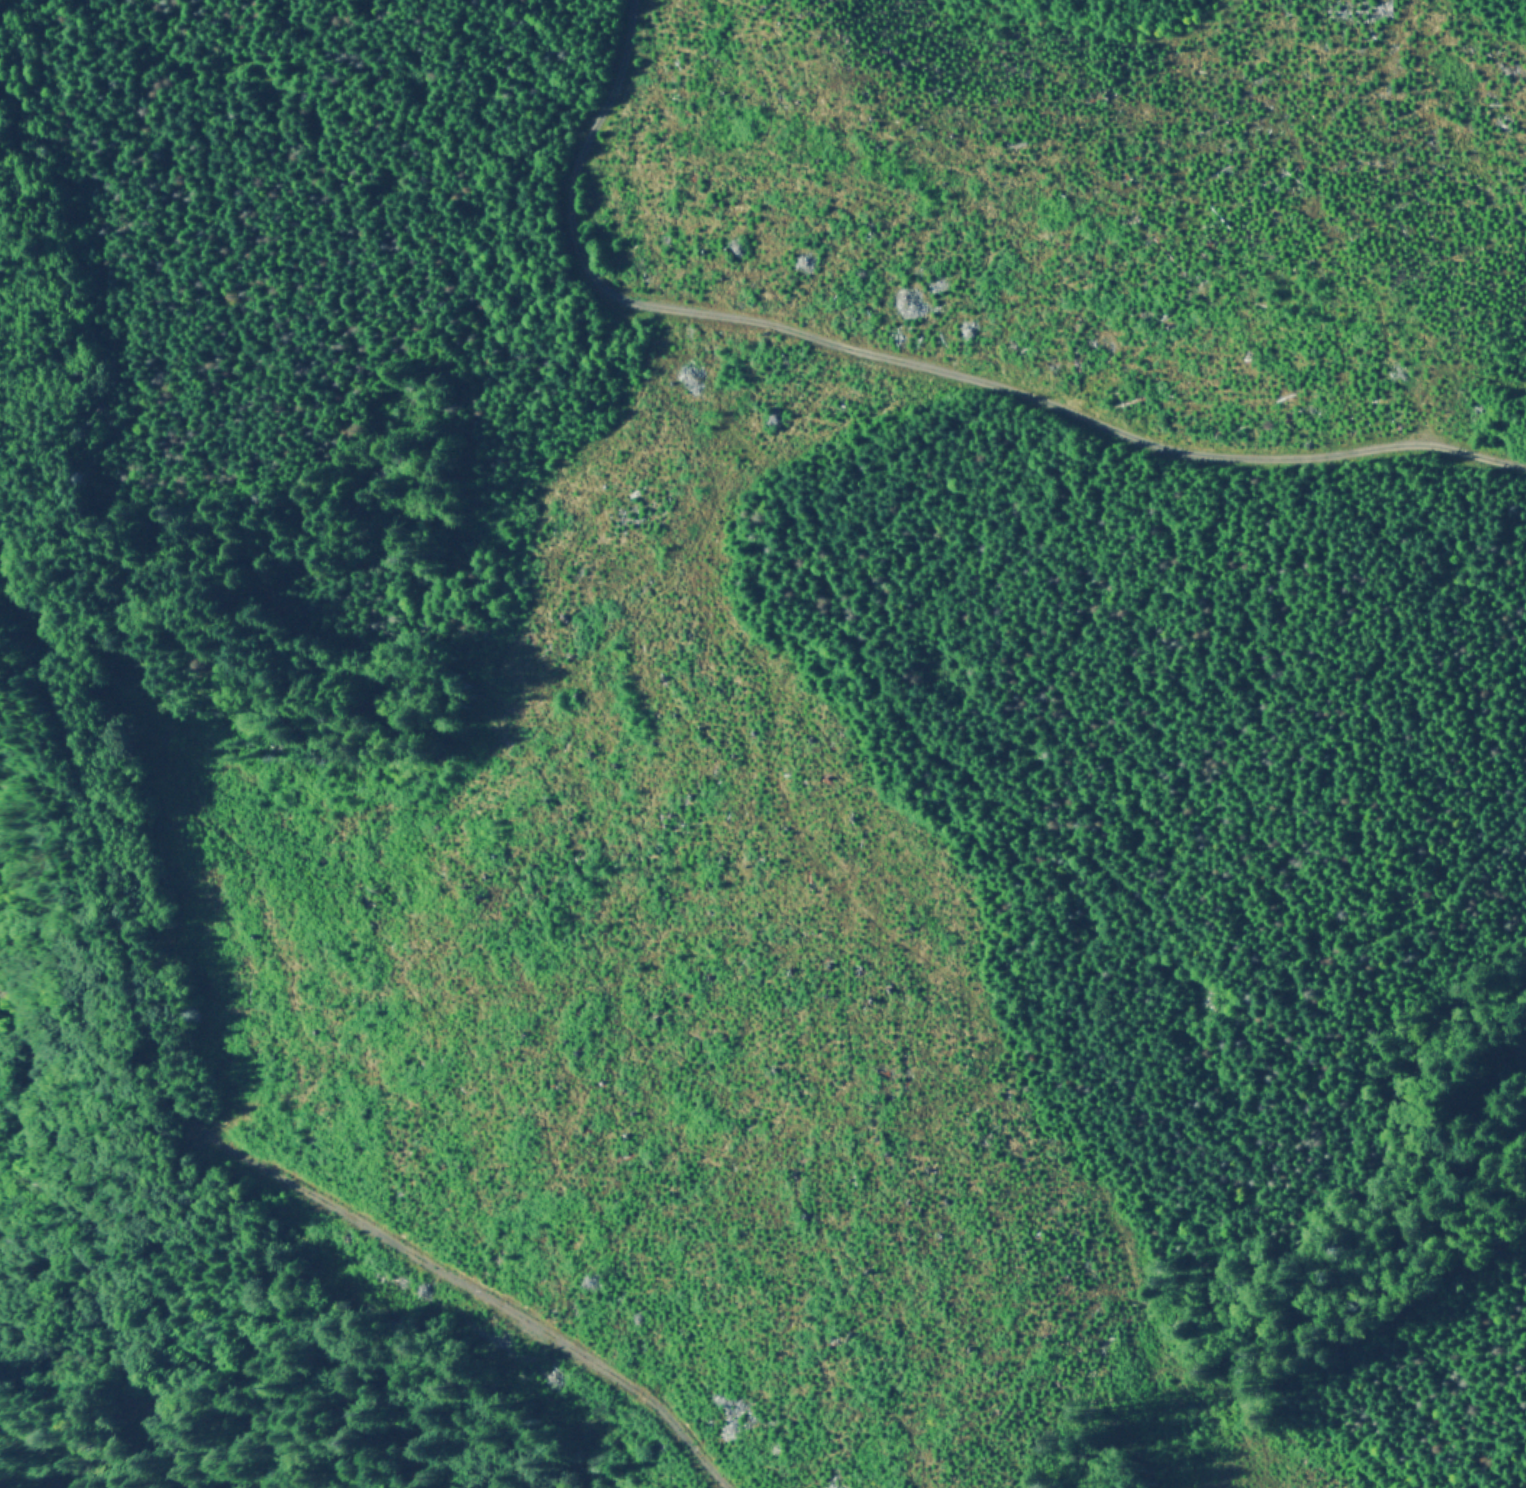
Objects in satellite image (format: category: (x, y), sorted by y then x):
road: (905, 468)
road: (101, 858)

